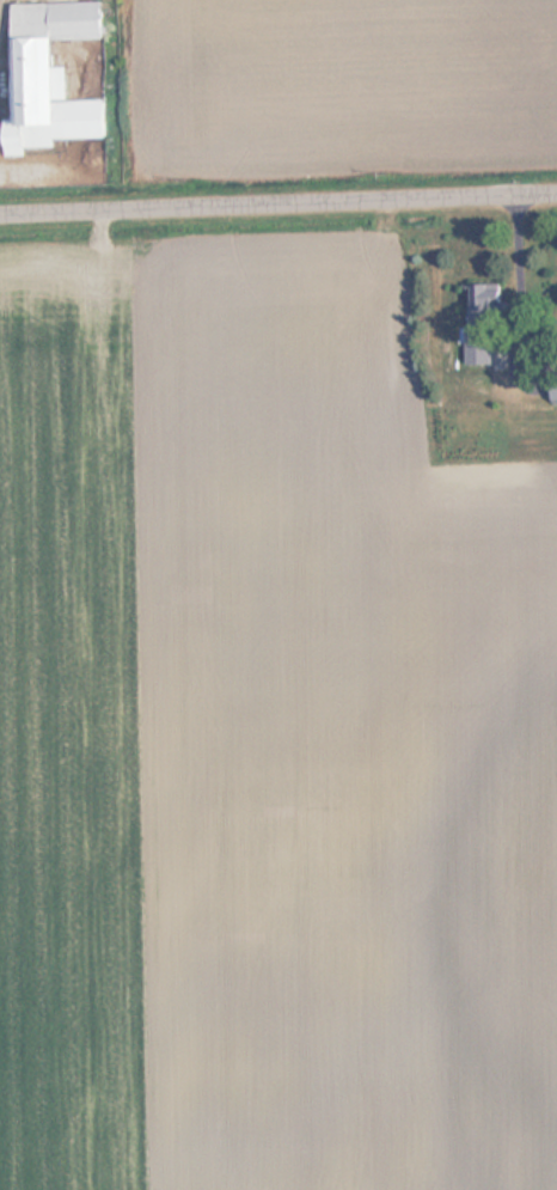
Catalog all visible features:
building: (57, 77)
road: (278, 203)
building: (490, 317)
building: (556, 390)
building: (485, 425)

